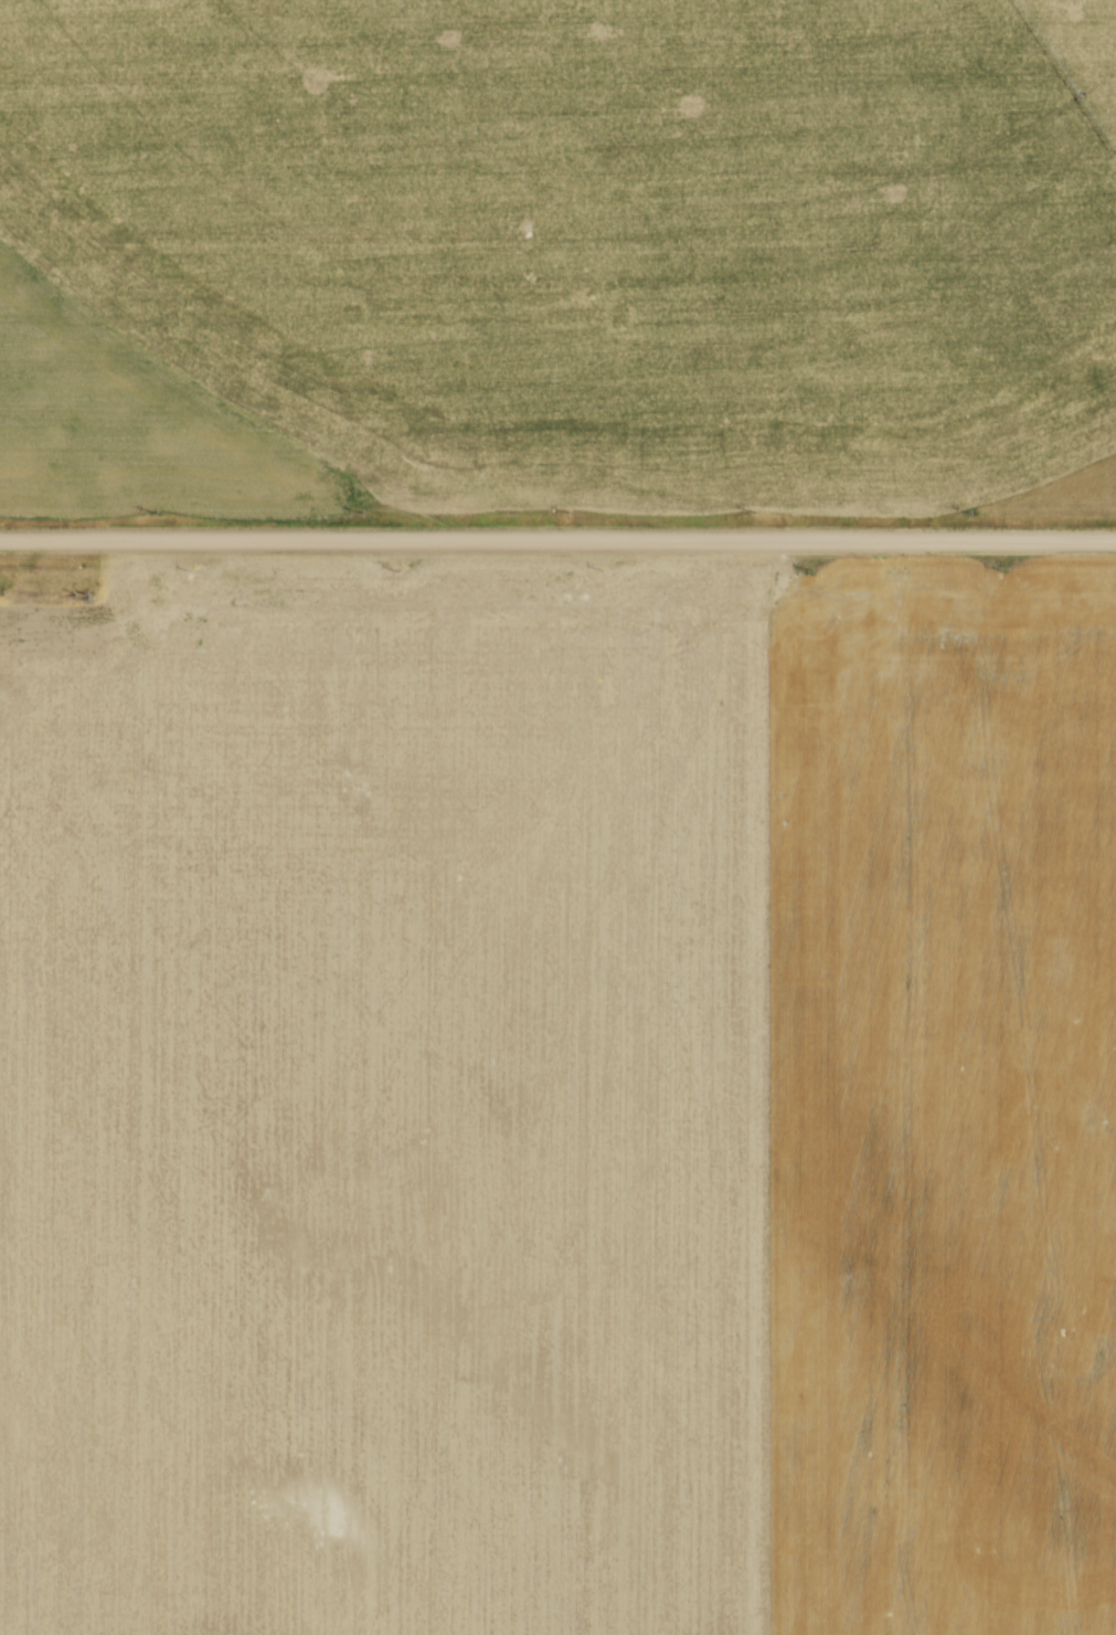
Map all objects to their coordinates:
crop: (553, 260)
road: (557, 541)
crop: (560, 1100)

